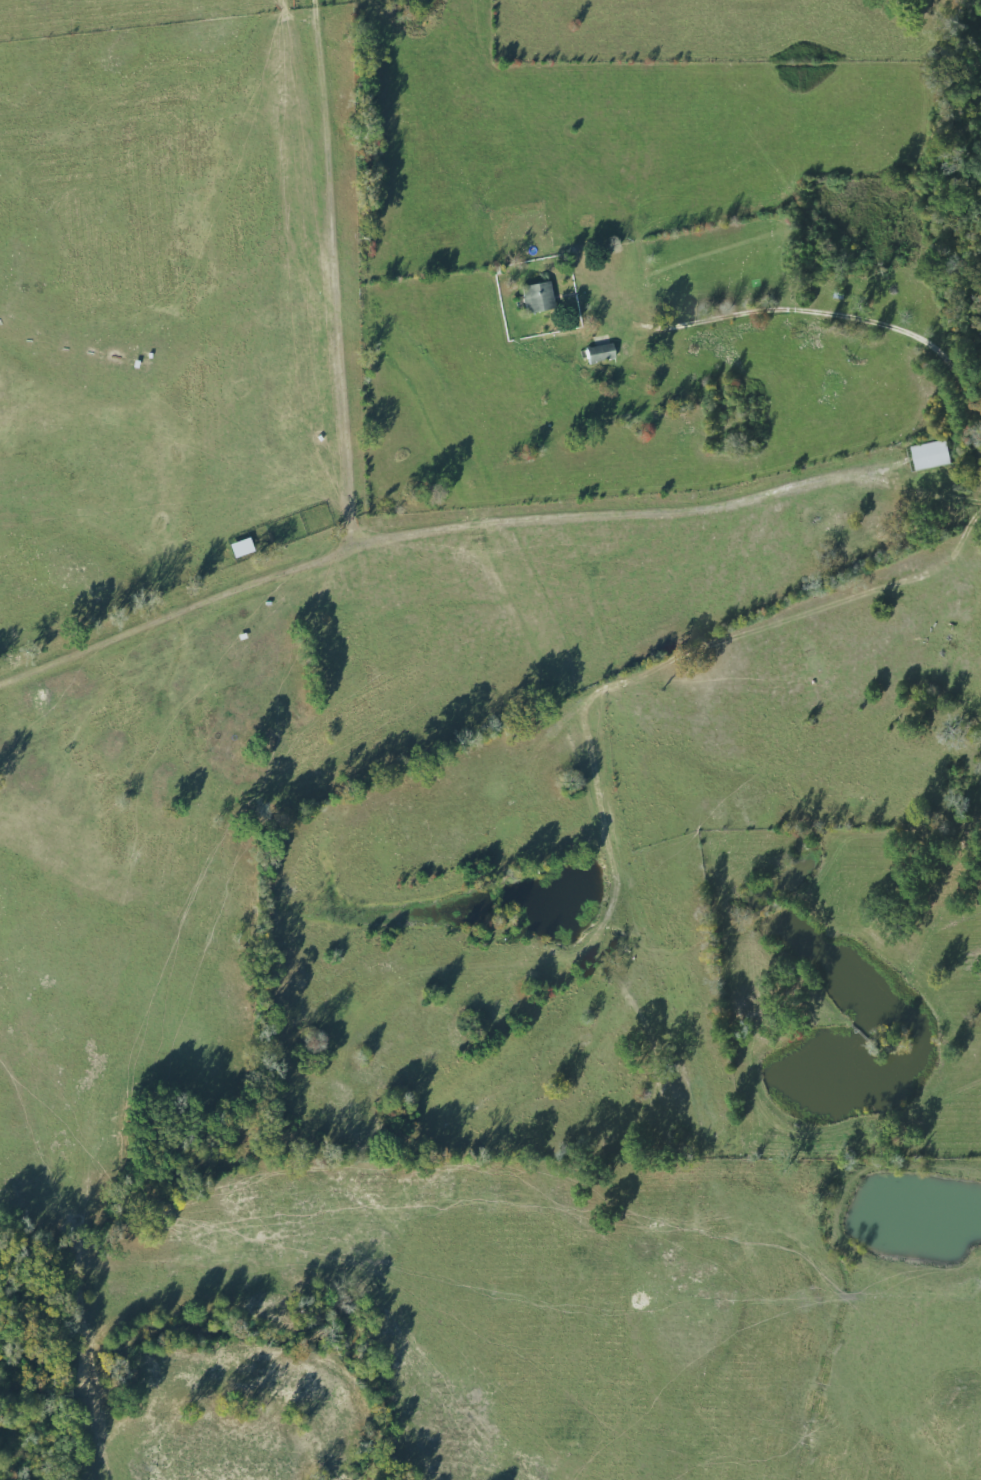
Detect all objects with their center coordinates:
building: (542, 297)
road: (920, 341)
building: (605, 353)
building: (938, 455)

